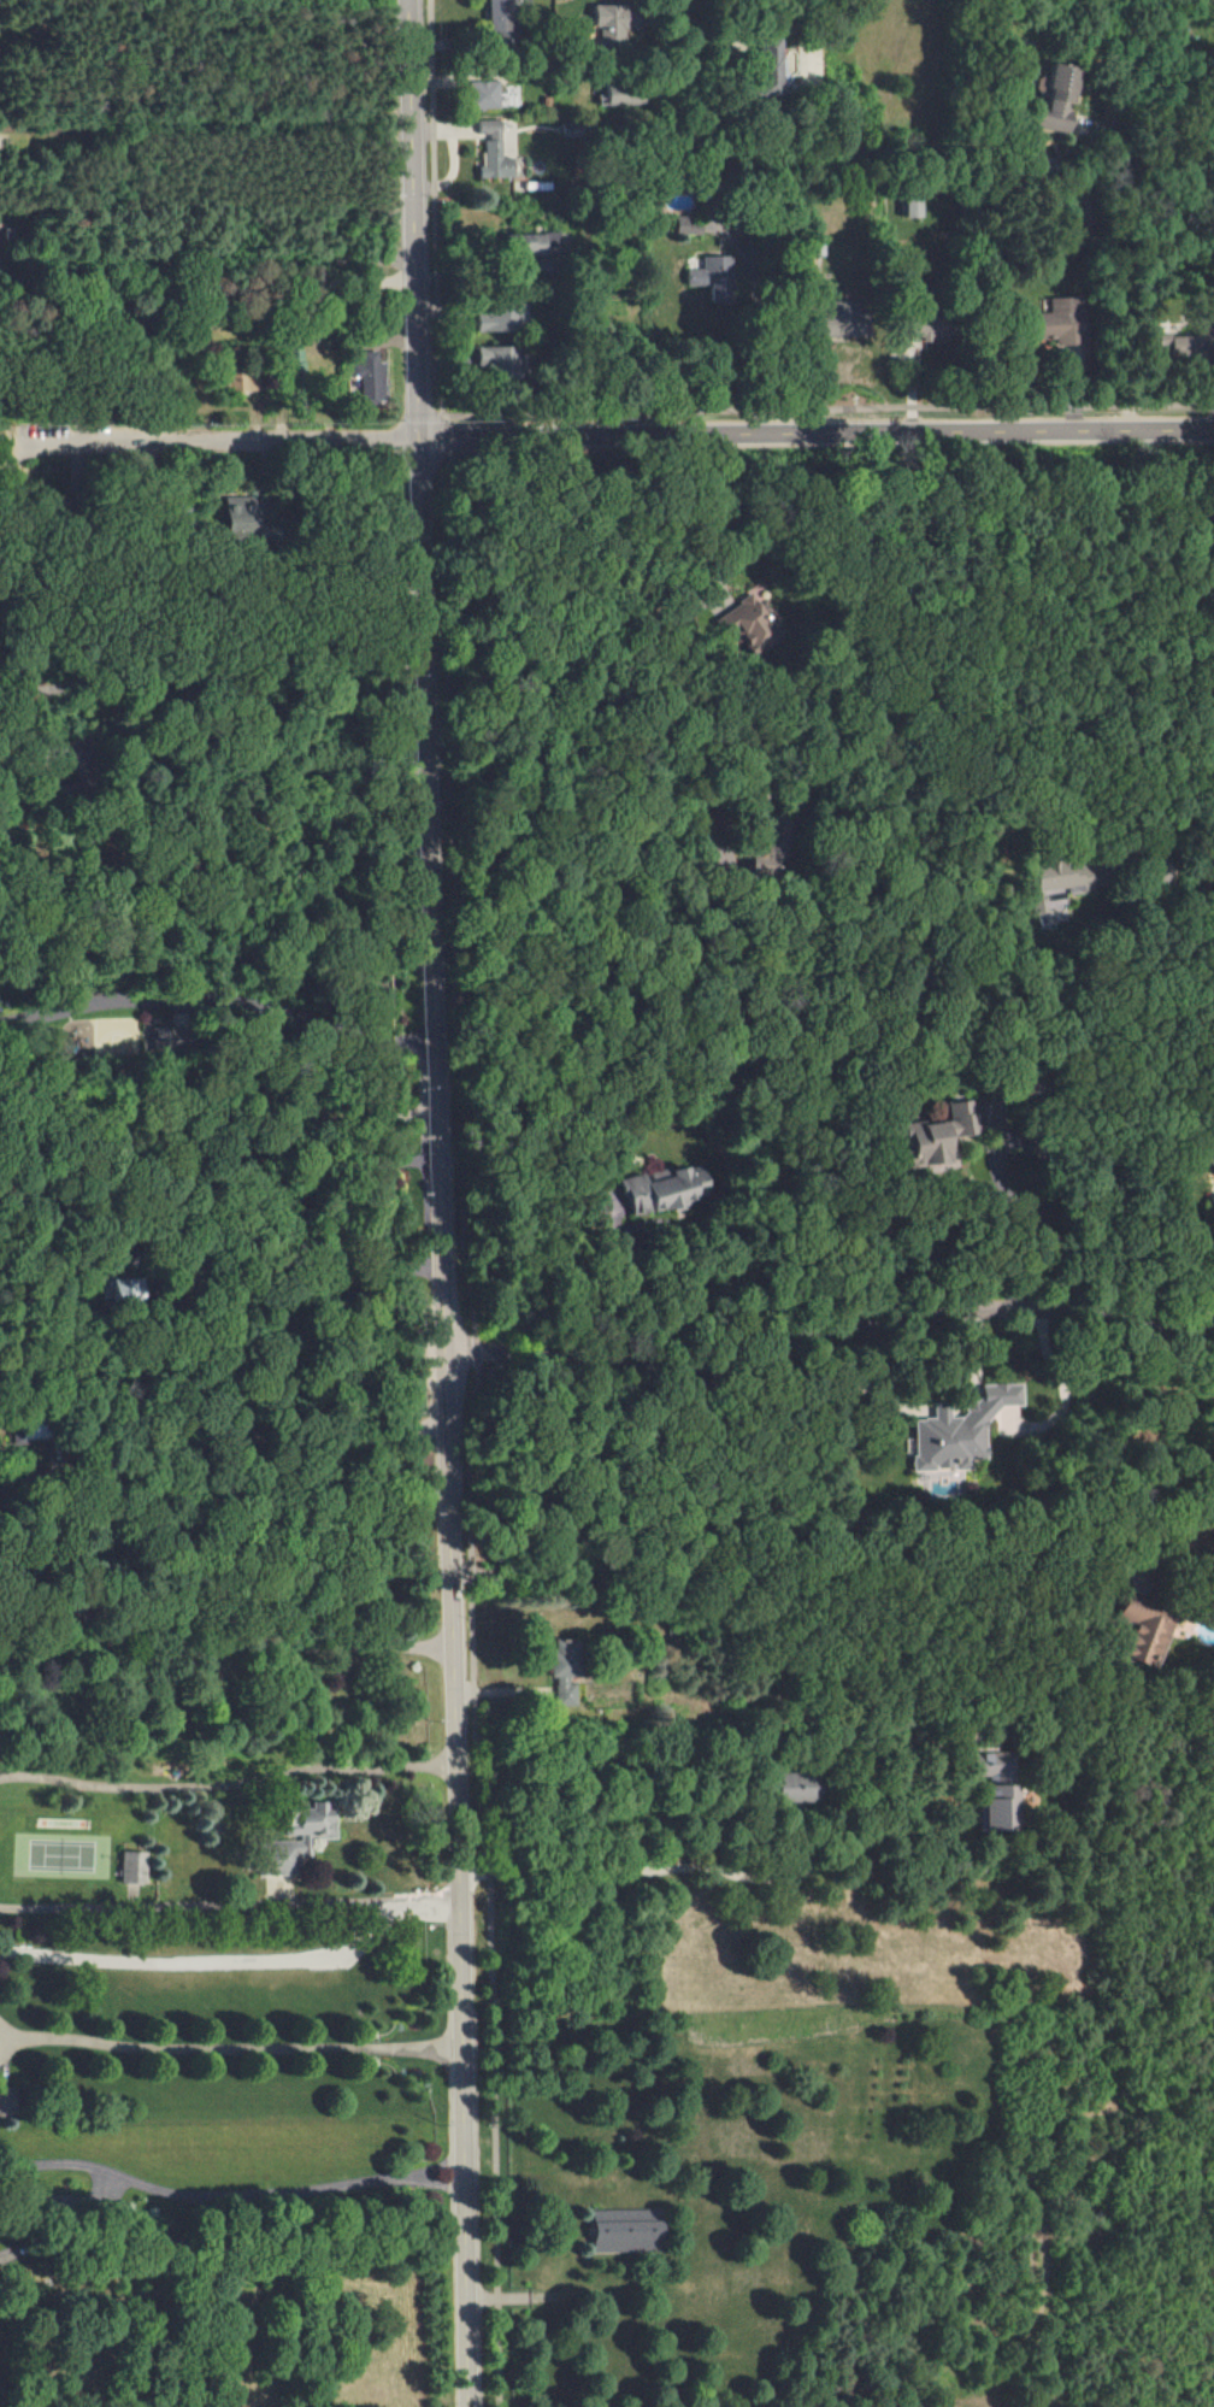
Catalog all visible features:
building: (500, 16)
building: (608, 24)
road: (693, 34)
building: (771, 69)
building: (483, 94)
building: (621, 96)
building: (1057, 98)
building: (493, 152)
building: (912, 210)
building: (688, 225)
building: (532, 245)
road: (743, 251)
road: (211, 258)
building: (709, 272)
road: (1125, 310)
building: (1062, 320)
building: (489, 322)
building: (1160, 340)
building: (1188, 342)
building: (489, 355)
building: (294, 359)
building: (369, 375)
road: (57, 401)
road: (829, 408)
road: (820, 434)
road: (230, 445)
road: (17, 449)
building: (238, 514)
road: (211, 622)
building: (755, 625)
road: (808, 724)
road: (216, 777)
building: (1049, 884)
road: (217, 961)
road: (220, 999)
building: (938, 1134)
road: (1061, 1163)
building: (661, 1189)
road: (444, 1202)
road: (465, 1205)
road: (668, 1248)
road: (1208, 1258)
road: (1155, 1278)
road: (220, 1282)
building: (117, 1290)
road: (1212, 1300)
road: (225, 1322)
road: (789, 1336)
road: (1173, 1340)
road: (1206, 1343)
road: (923, 1408)
building: (959, 1431)
road: (224, 1438)
road: (228, 1496)
road: (773, 1582)
building: (1141, 1632)
road: (229, 1647)
building: (565, 1672)
road: (229, 1788)
building: (792, 1788)
building: (994, 1791)
building: (301, 1838)
park: (63, 1856)
building: (132, 1866)
road: (694, 1866)
road: (230, 1905)
road: (7, 2030)
road: (7, 2047)
road: (238, 2049)
road: (230, 2197)
road: (231, 2240)
park: (0, 2313)

